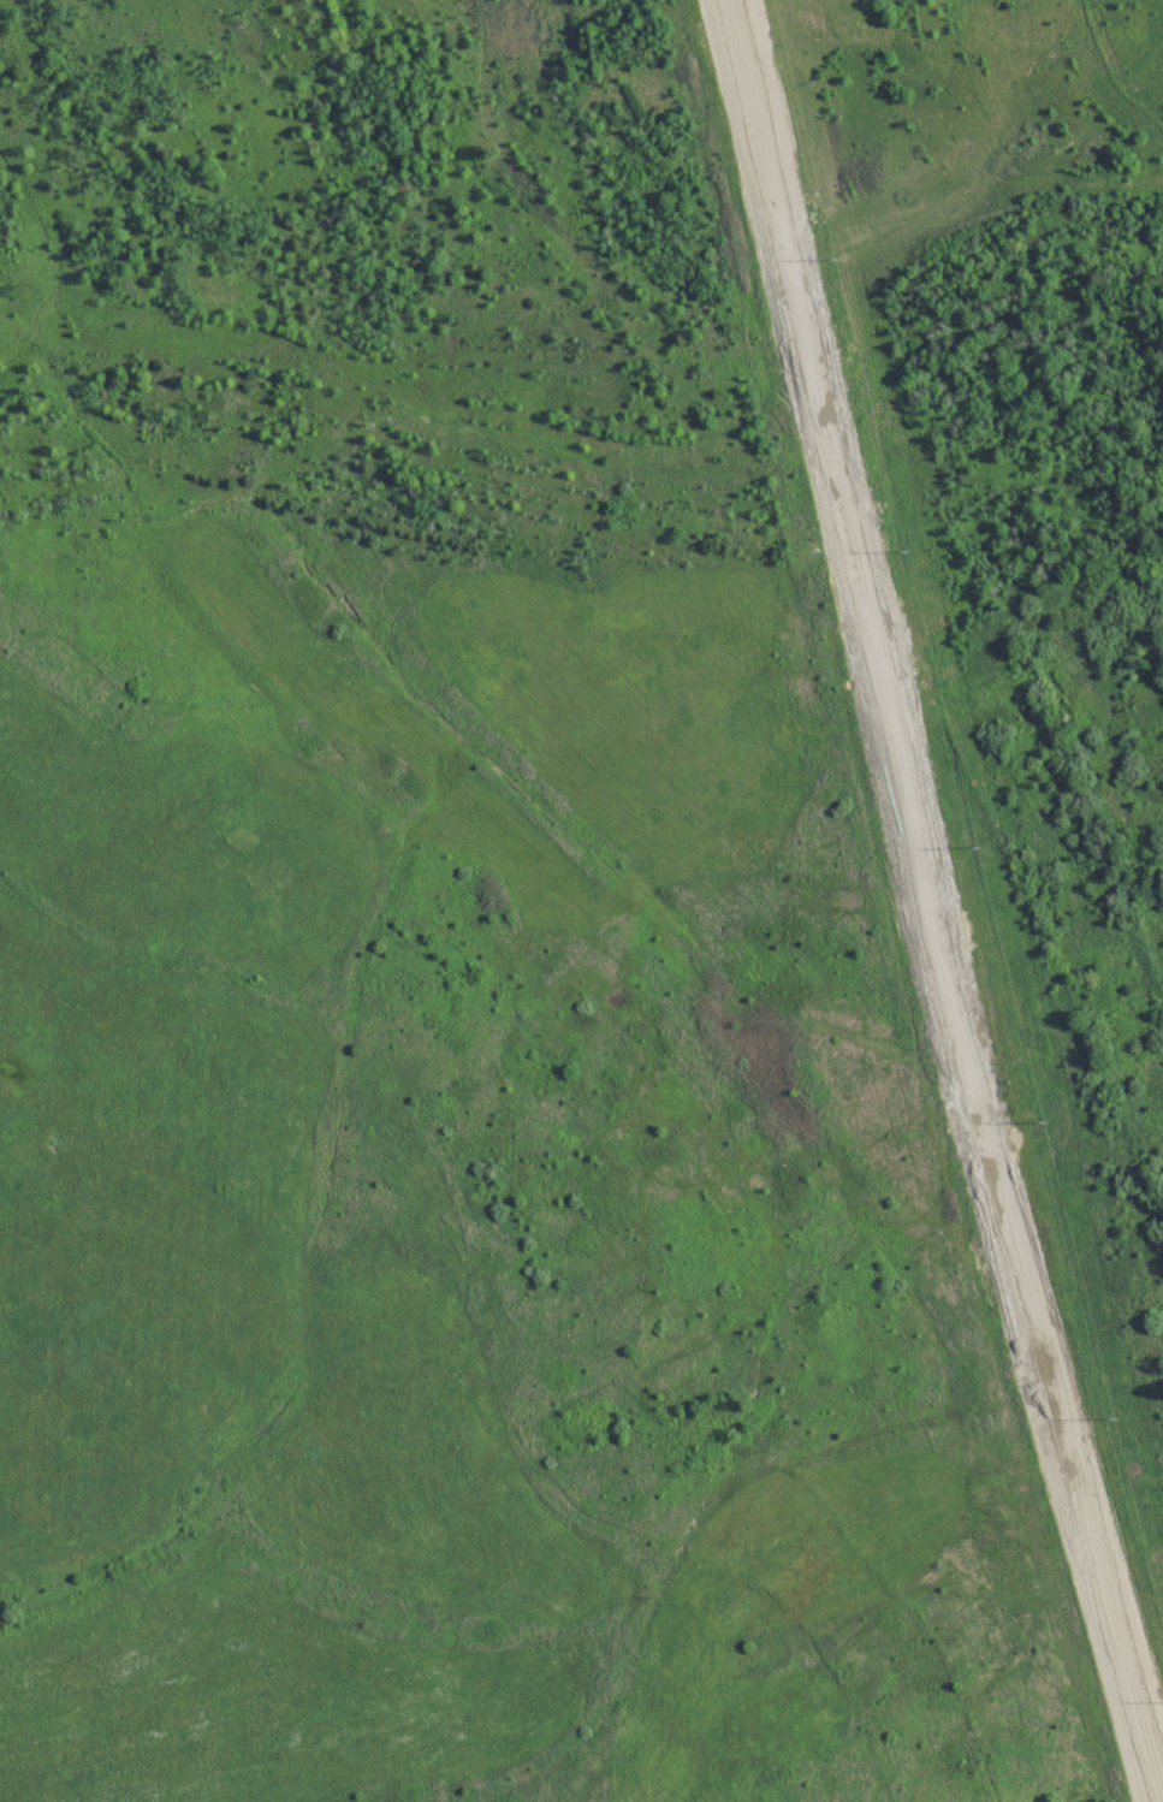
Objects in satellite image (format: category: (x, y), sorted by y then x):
road: (915, 905)

